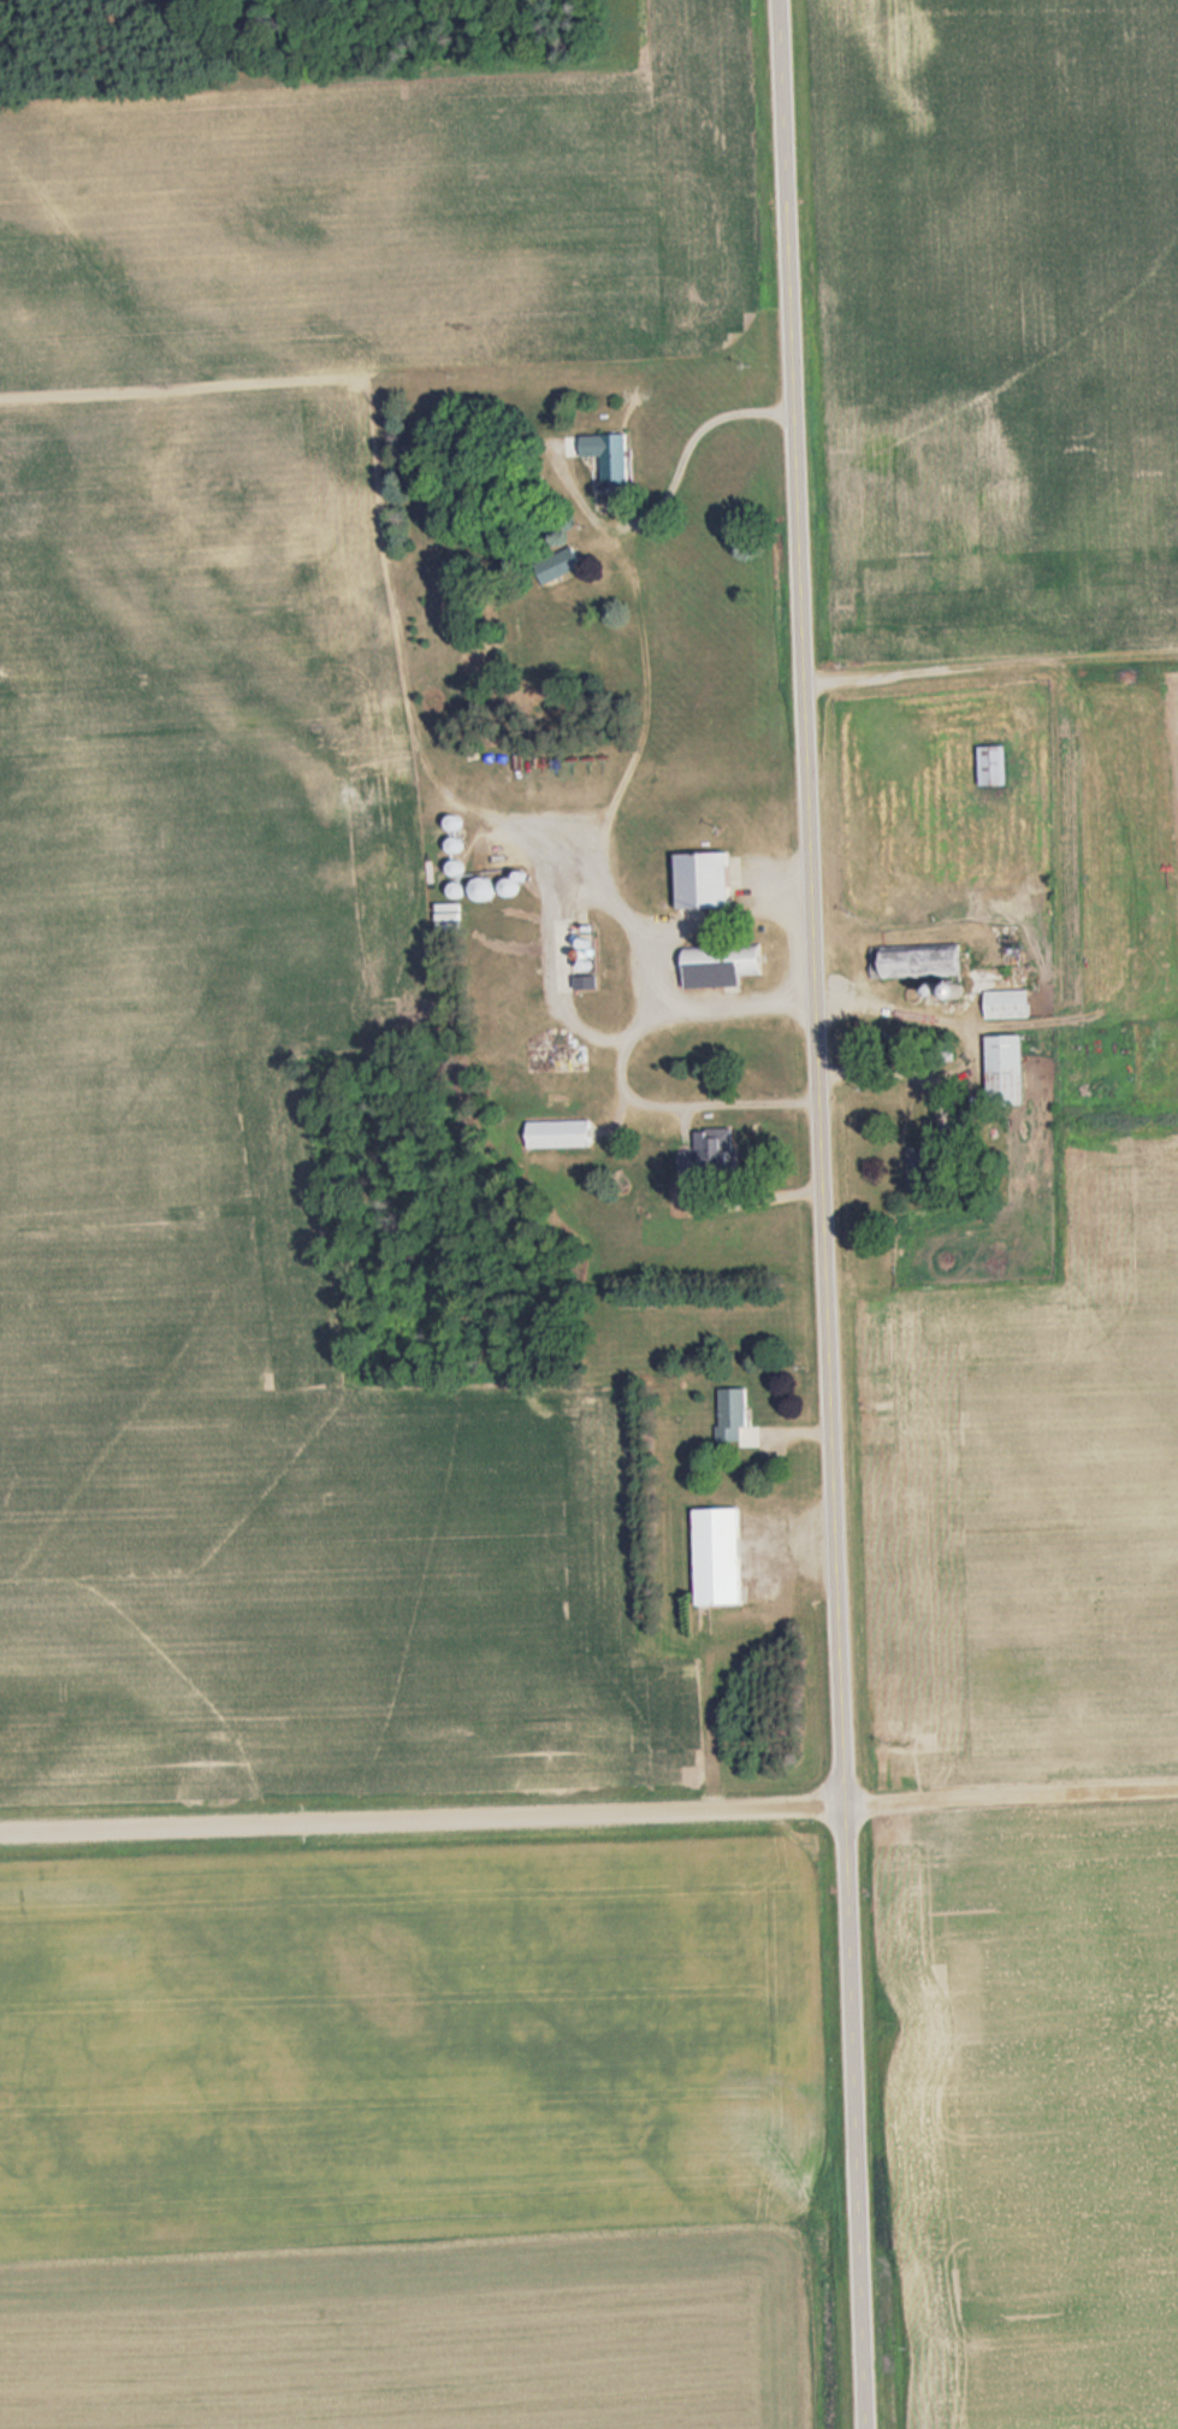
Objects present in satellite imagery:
building: (611, 456)
building: (554, 565)
building: (989, 764)
building: (699, 879)
building: (479, 889)
building: (913, 961)
building: (580, 962)
building: (717, 963)
building: (1005, 1003)
building: (1002, 1069)
building: (556, 1133)
building: (700, 1152)
building: (919, 1169)
road: (817, 1214)
building: (730, 1414)
building: (715, 1556)
road: (588, 1811)

